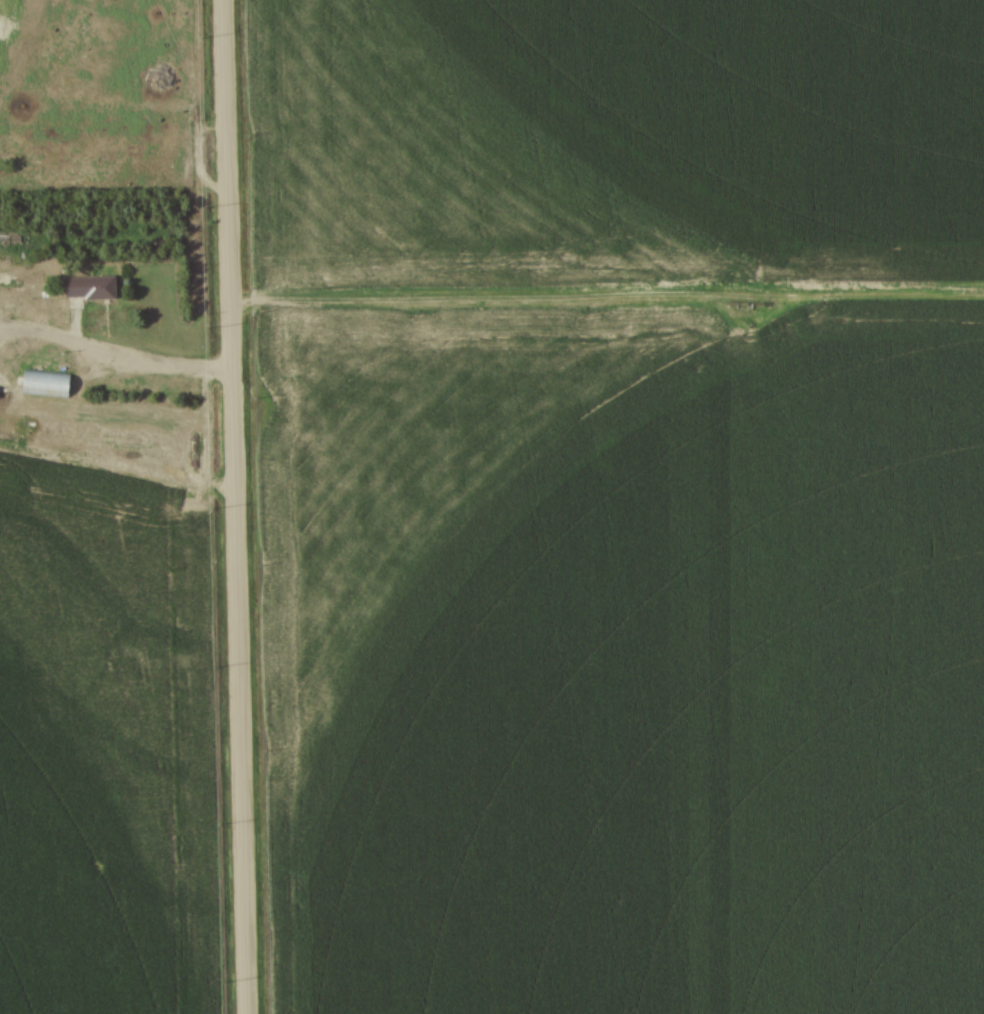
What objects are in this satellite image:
building: (21, 282)
building: (86, 289)
road: (137, 352)
building: (42, 384)
road: (238, 506)

